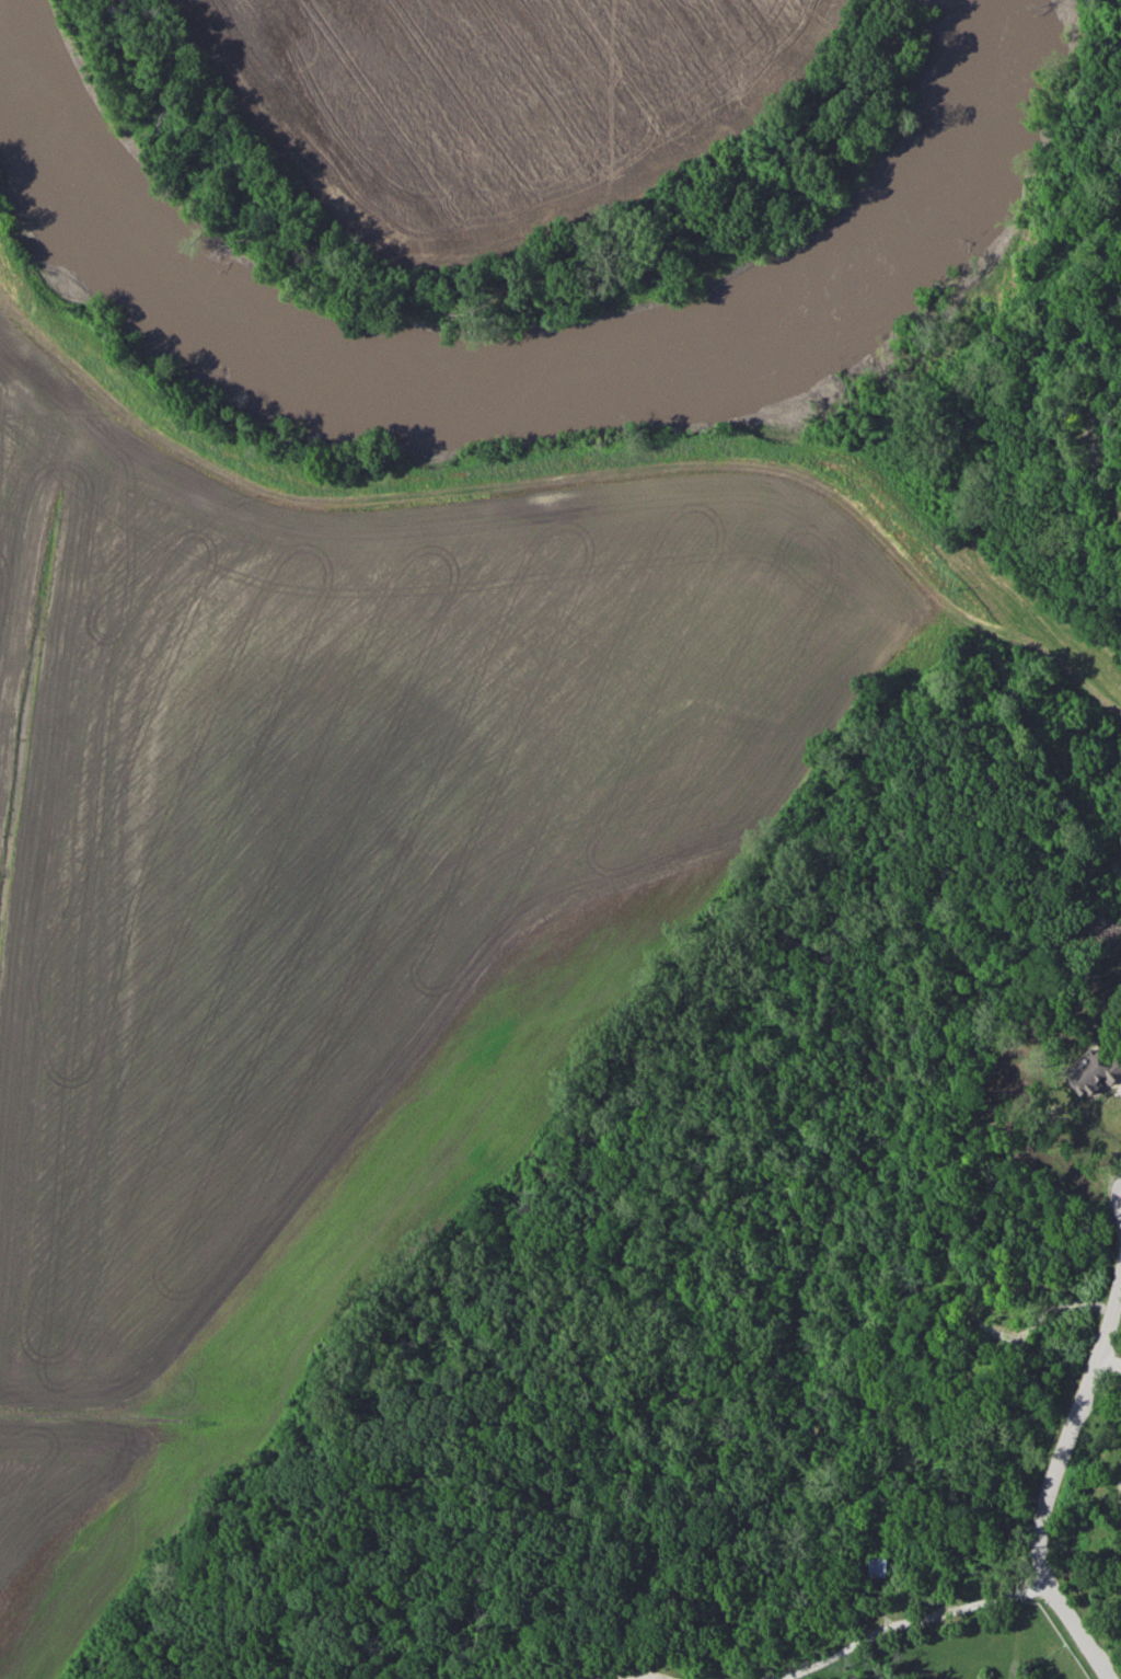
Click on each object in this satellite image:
river: (498, 394)
road: (1112, 1357)
road: (1060, 1490)
road: (903, 1623)
road: (1109, 1651)

